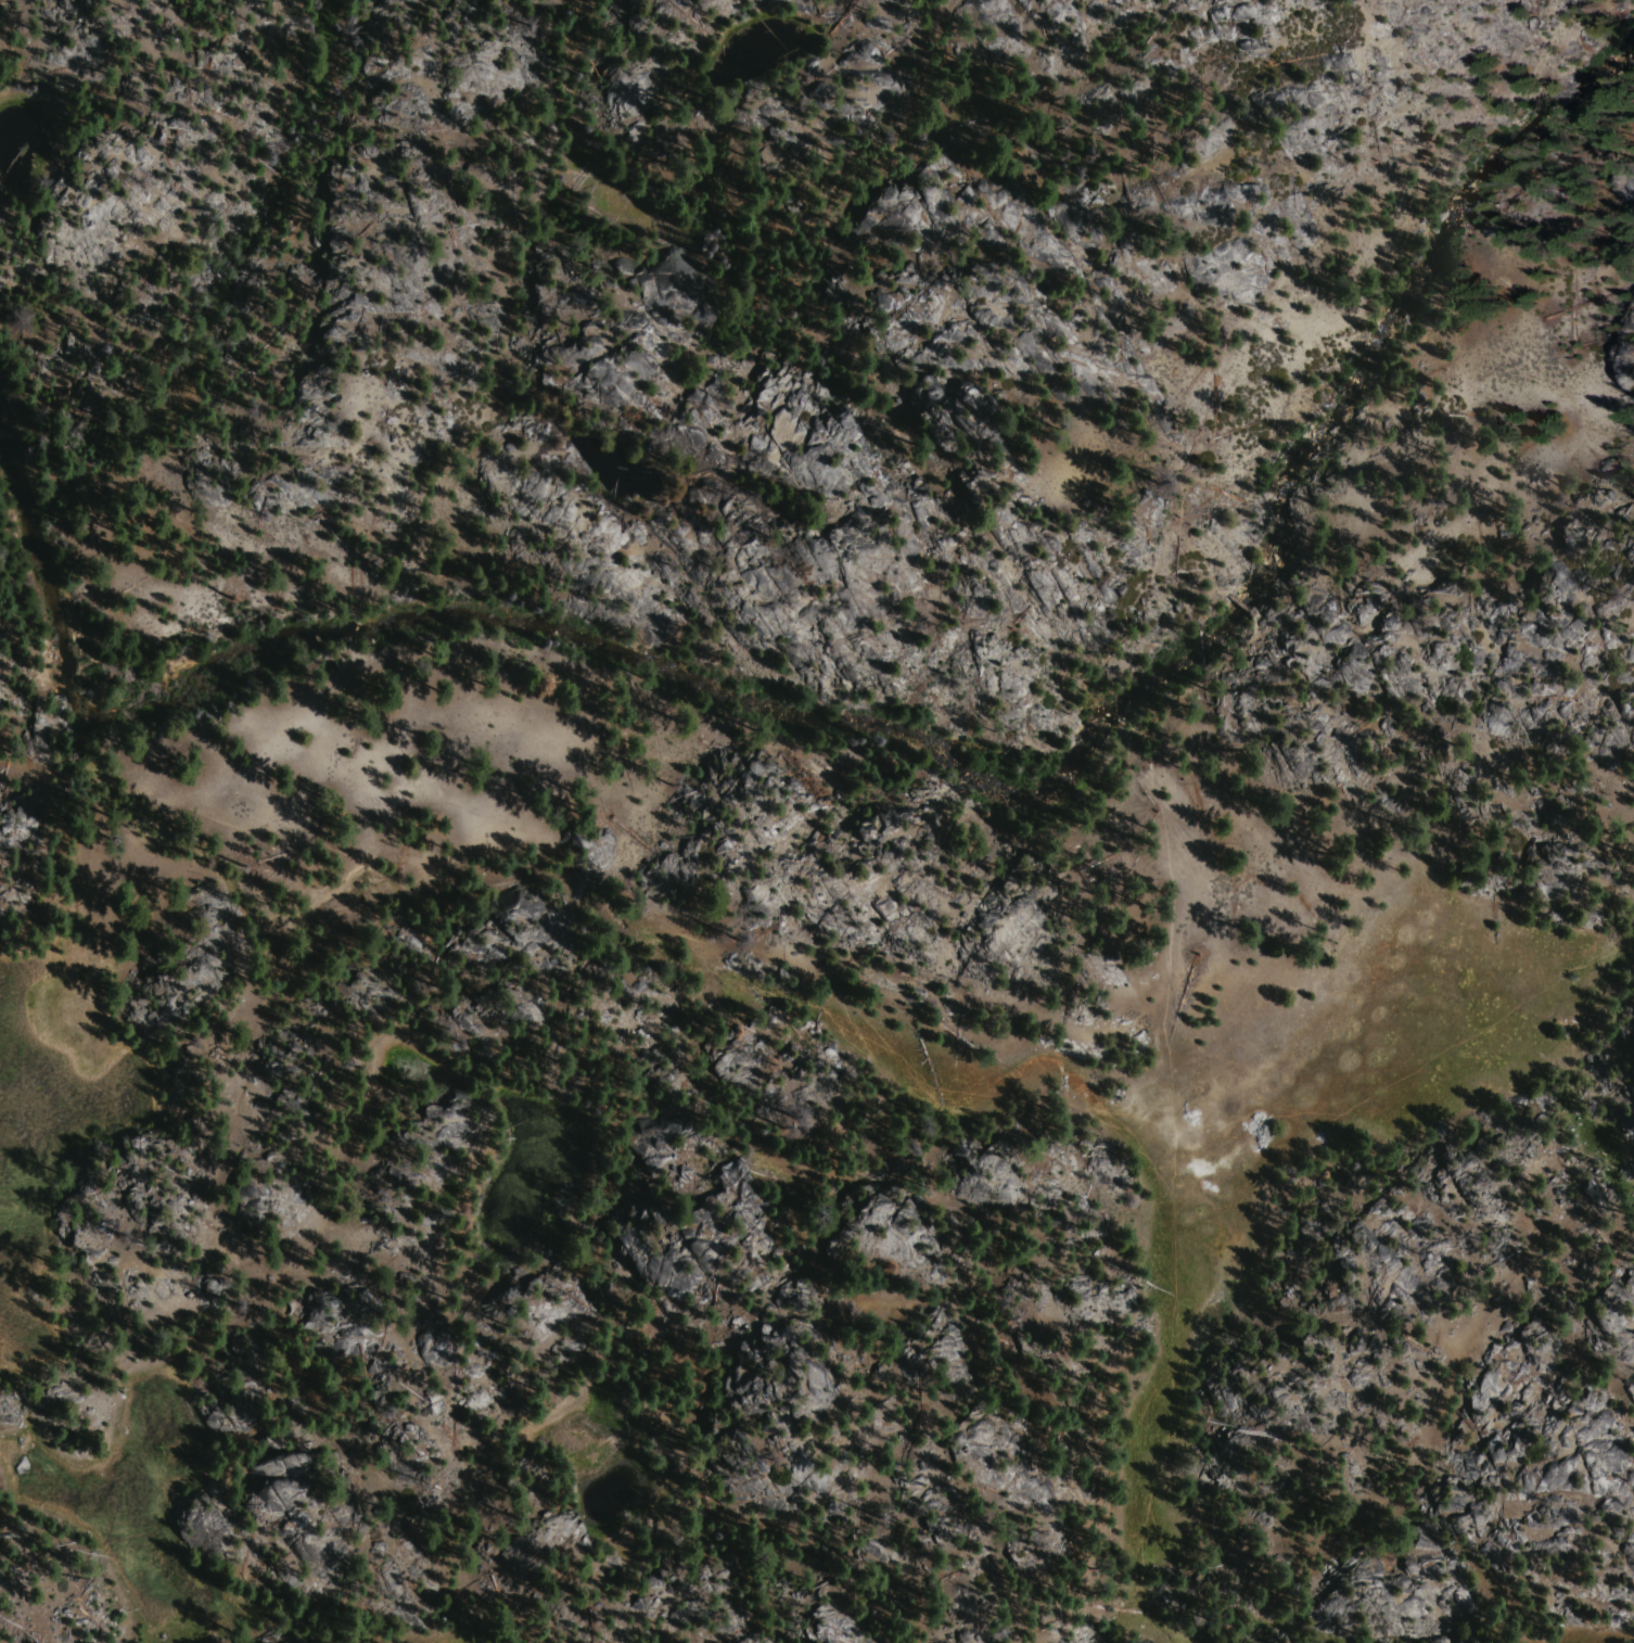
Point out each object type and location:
road: (1109, 148)
road: (1230, 345)
road: (1170, 1232)

